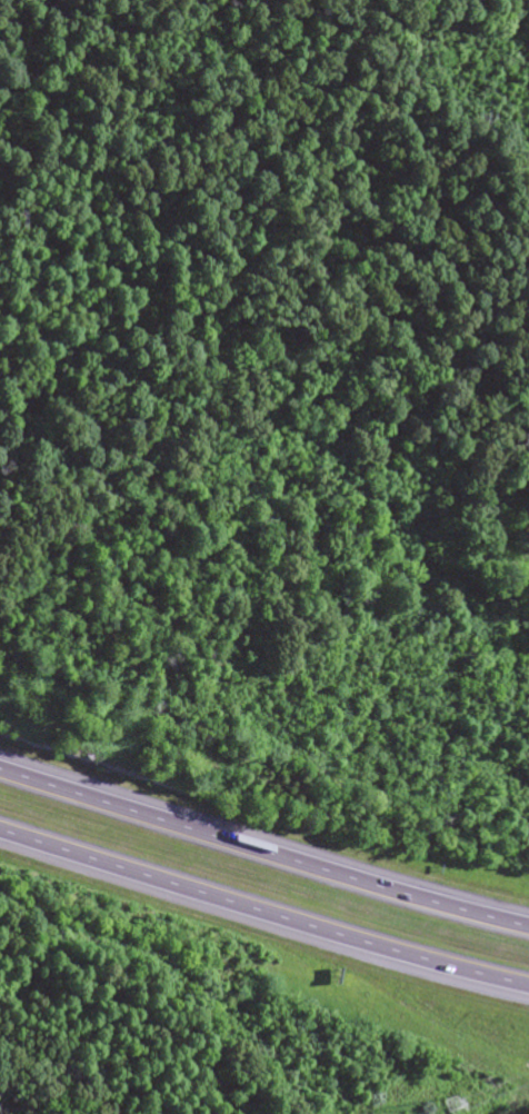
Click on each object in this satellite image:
road: (263, 853)
road: (262, 914)

